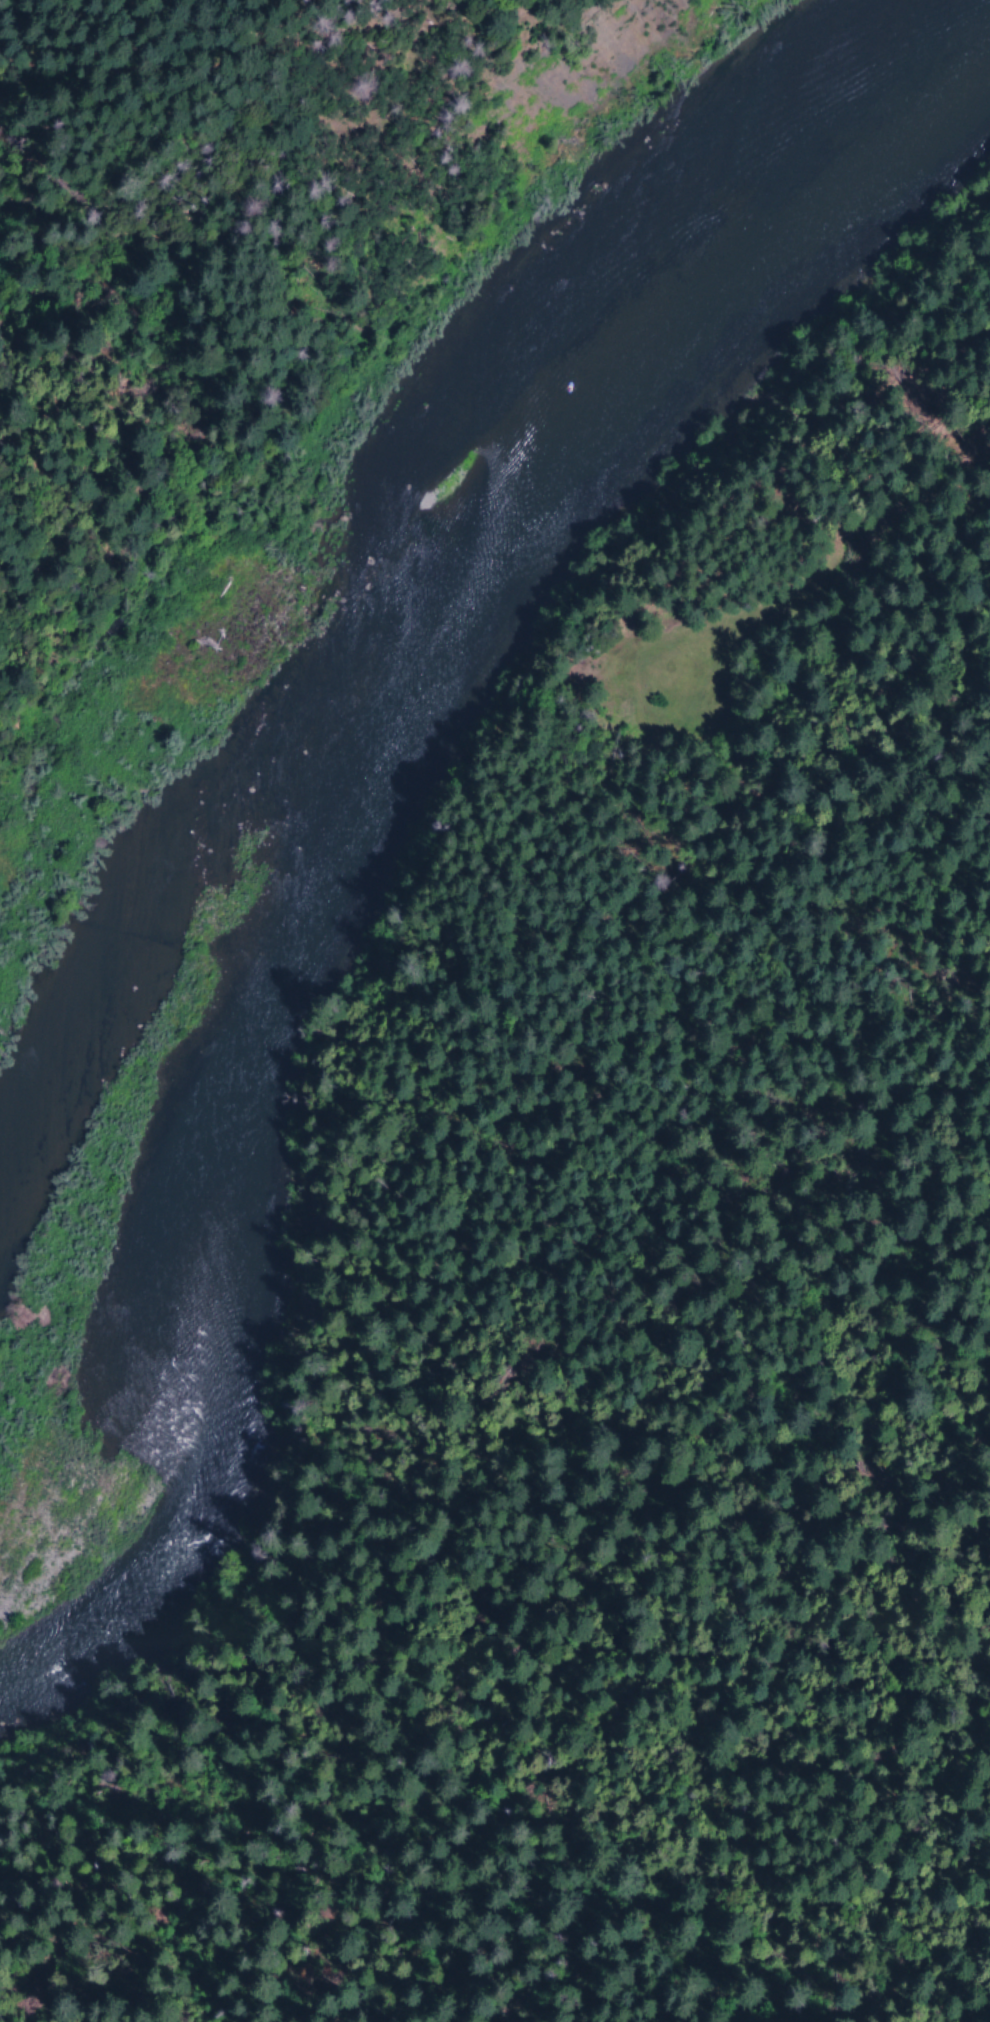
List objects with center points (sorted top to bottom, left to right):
road: (272, 39)
road: (264, 196)
road: (53, 410)
river: (354, 797)

